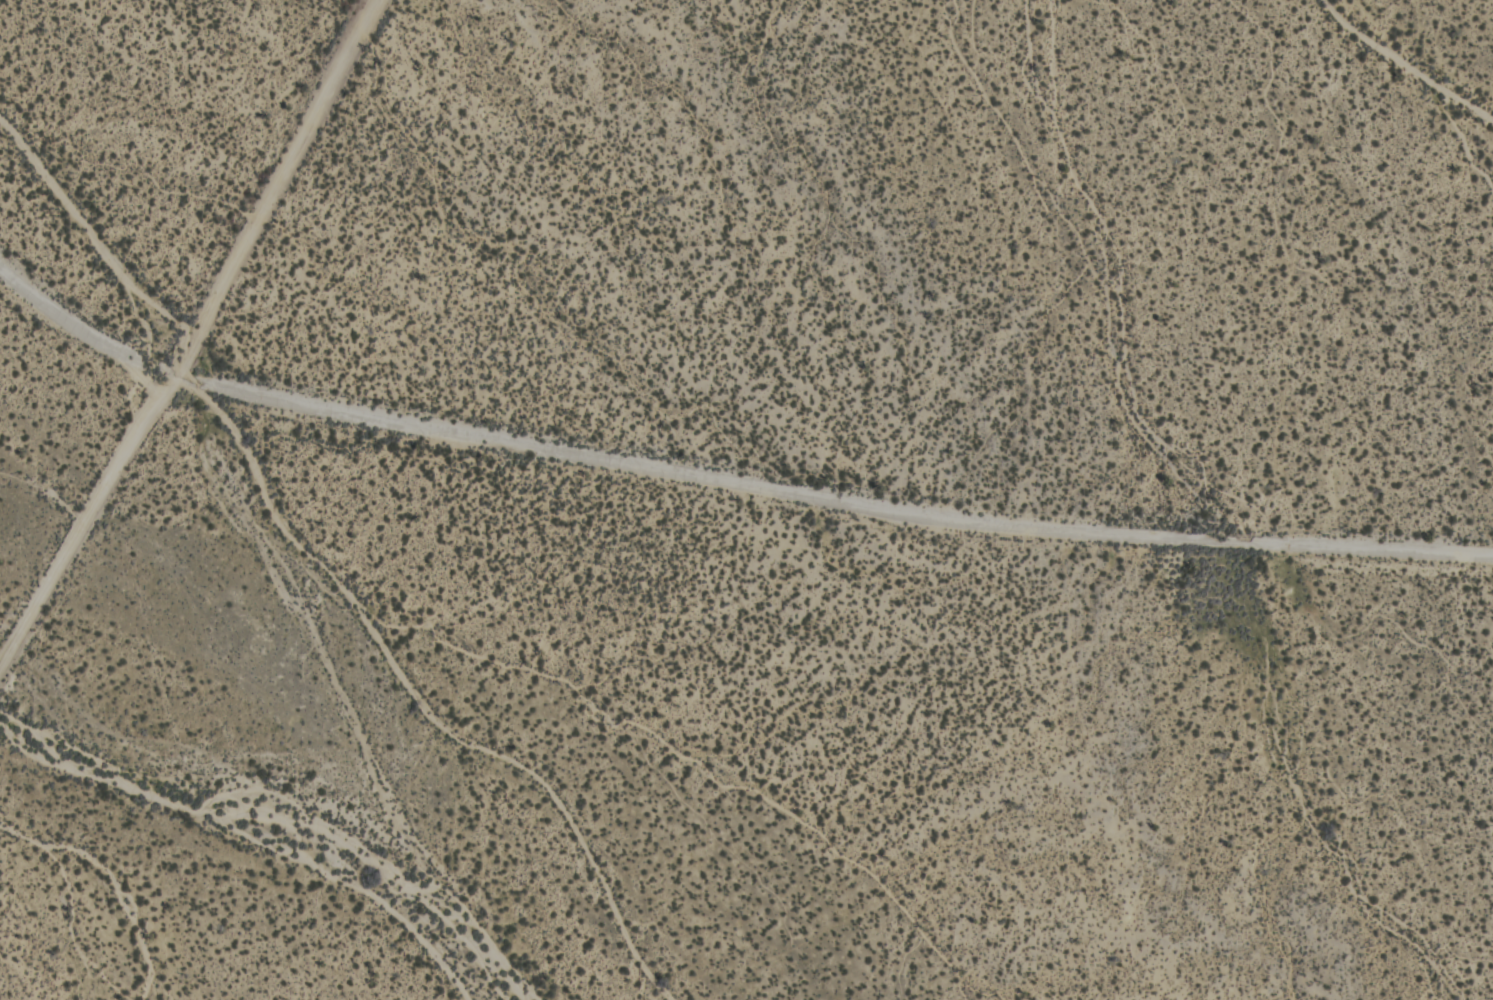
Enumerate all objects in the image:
road: (271, 191)
road: (722, 481)
road: (85, 526)

